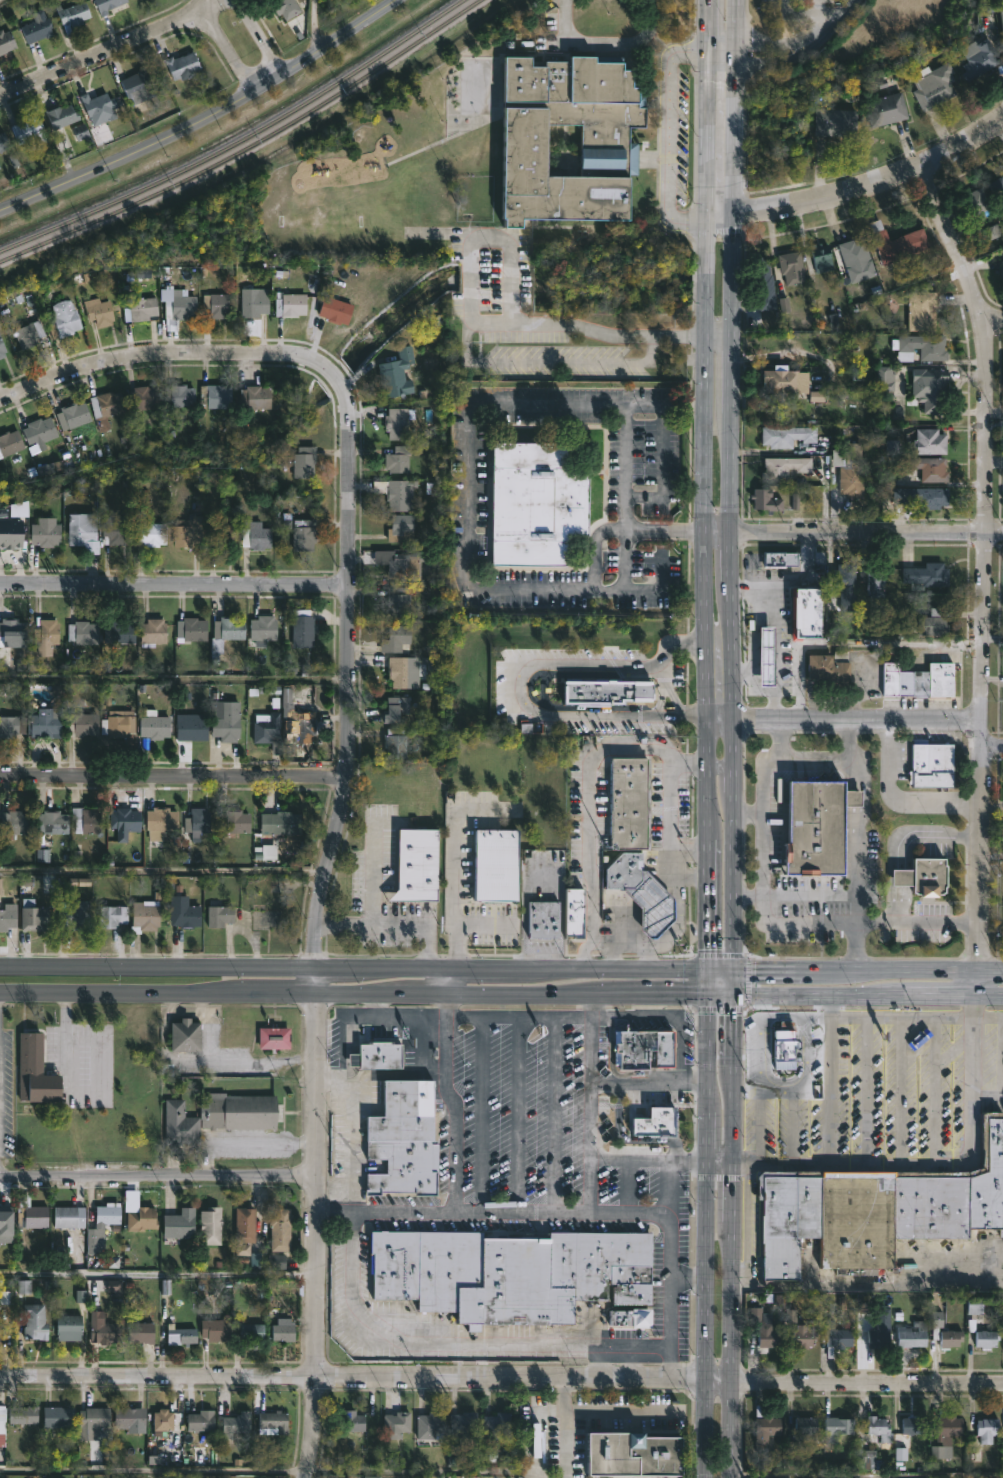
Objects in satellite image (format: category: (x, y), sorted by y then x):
road: (197, 4)
road: (10, 6)
building: (109, 6)
building: (287, 8)
road: (744, 9)
parking lot: (802, 10)
building: (1001, 10)
building: (72, 15)
road: (793, 15)
road: (816, 18)
road: (736, 25)
building: (37, 28)
road: (314, 28)
road: (261, 36)
building: (6, 41)
road: (608, 42)
road: (802, 42)
road: (227, 47)
road: (722, 50)
road: (97, 57)
building: (981, 60)
building: (183, 65)
building: (138, 85)
building: (935, 85)
building: (98, 108)
road: (706, 108)
building: (887, 109)
building: (61, 114)
road: (206, 120)
building: (836, 122)
road: (735, 131)
building: (28, 132)
road: (663, 137)
building: (604, 138)
railway: (239, 140)
building: (3, 143)
railway: (247, 145)
road: (873, 177)
building: (997, 188)
building: (974, 205)
road: (720, 215)
building: (993, 234)
building: (898, 243)
building: (824, 256)
building: (858, 259)
building: (792, 268)
building: (1002, 272)
building: (765, 286)
building: (254, 302)
building: (215, 304)
building: (290, 304)
building: (142, 308)
building: (335, 309)
building: (179, 310)
building: (923, 311)
building: (99, 312)
road: (990, 314)
building: (65, 318)
road: (466, 327)
road: (718, 333)
building: (29, 334)
building: (923, 346)
building: (2, 349)
road: (166, 351)
building: (396, 374)
building: (782, 381)
building: (884, 381)
building: (934, 390)
building: (180, 395)
building: (216, 396)
building: (254, 397)
building: (144, 398)
road: (678, 406)
road: (694, 406)
building: (106, 408)
building: (73, 415)
building: (396, 424)
building: (39, 432)
building: (787, 436)
building: (930, 442)
building: (10, 443)
building: (398, 460)
building: (304, 462)
building: (55, 467)
road: (733, 468)
building: (927, 468)
road: (702, 470)
building: (786, 470)
building: (853, 472)
road: (624, 485)
building: (396, 493)
building: (923, 497)
building: (766, 500)
building: (534, 503)
road: (468, 524)
building: (402, 530)
road: (718, 530)
building: (83, 531)
building: (114, 531)
building: (149, 531)
road: (868, 531)
building: (46, 532)
building: (188, 534)
building: (10, 535)
building: (220, 535)
building: (256, 535)
building: (304, 536)
building: (777, 558)
road: (981, 559)
building: (404, 568)
building: (927, 576)
road: (173, 586)
road: (657, 586)
building: (845, 586)
building: (875, 587)
building: (400, 602)
building: (807, 614)
building: (934, 624)
building: (12, 631)
building: (192, 631)
building: (263, 631)
building: (153, 632)
building: (227, 632)
building: (83, 633)
building: (118, 634)
building: (303, 635)
building: (46, 637)
building: (396, 639)
road: (992, 639)
road: (778, 640)
building: (832, 669)
road: (348, 671)
building: (404, 672)
building: (919, 681)
road: (517, 683)
building: (604, 690)
building: (396, 710)
building: (226, 721)
road: (880, 721)
building: (296, 722)
road: (758, 722)
building: (45, 723)
road: (721, 723)
building: (82, 725)
building: (11, 726)
building: (119, 726)
building: (152, 727)
building: (191, 729)
building: (266, 729)
road: (781, 739)
building: (395, 744)
road: (707, 744)
road: (991, 747)
road: (735, 749)
road: (831, 762)
building: (934, 766)
road: (722, 767)
road: (173, 776)
road: (896, 800)
road: (587, 801)
building: (631, 804)
road: (749, 814)
building: (162, 820)
building: (86, 822)
building: (234, 822)
building: (52, 823)
building: (125, 824)
building: (281, 824)
building: (14, 825)
building: (198, 825)
building: (815, 827)
road: (925, 833)
road: (991, 852)
road: (689, 853)
road: (454, 857)
road: (856, 857)
road: (372, 860)
building: (494, 864)
building: (414, 865)
road: (165, 871)
road: (690, 875)
building: (920, 876)
road: (899, 877)
building: (640, 891)
road: (676, 893)
road: (899, 904)
building: (497, 912)
building: (573, 912)
building: (184, 914)
building: (75, 916)
building: (8, 917)
building: (34, 917)
building: (112, 917)
building: (145, 917)
building: (220, 917)
building: (541, 920)
road: (783, 924)
road: (484, 925)
road: (392, 929)
road: (612, 957)
road: (646, 957)
road: (501, 968)
traffic signals: (707, 969)
traffic signals: (734, 969)
road: (314, 980)
road: (445, 980)
road: (978, 982)
road: (501, 993)
traffic signals: (707, 994)
traffic signals: (734, 994)
road: (669, 1015)
road: (517, 1016)
road: (780, 1020)
road: (423, 1021)
road: (947, 1021)
building: (186, 1036)
building: (274, 1038)
building: (917, 1039)
building: (639, 1048)
road: (757, 1052)
building: (780, 1052)
building: (375, 1055)
road: (805, 1055)
building: (34, 1072)
road: (386, 1074)
road: (829, 1077)
road: (647, 1081)
road: (774, 1085)
road: (68, 1089)
road: (588, 1103)
building: (243, 1111)
road: (483, 1114)
road: (515, 1114)
road: (551, 1114)
road: (706, 1122)
road: (756, 1122)
building: (651, 1123)
road: (792, 1123)
building: (180, 1124)
road: (351, 1127)
road: (733, 1127)
building: (401, 1139)
road: (247, 1142)
road: (629, 1159)
road: (719, 1159)
road: (934, 1162)
road: (669, 1169)
road: (454, 1170)
road: (157, 1175)
building: (953, 1192)
building: (30, 1213)
road: (626, 1213)
building: (107, 1214)
building: (69, 1216)
building: (785, 1217)
building: (140, 1219)
building: (855, 1220)
building: (180, 1223)
building: (211, 1225)
building: (245, 1227)
building: (281, 1228)
road: (314, 1235)
building: (509, 1272)
road: (687, 1273)
road: (157, 1274)
road: (867, 1285)
building: (979, 1304)
building: (633, 1317)
building: (34, 1321)
building: (0, 1325)
building: (69, 1327)
building: (764, 1328)
building: (216, 1329)
building: (104, 1330)
building: (252, 1331)
building: (283, 1332)
building: (142, 1333)
building: (948, 1333)
building: (180, 1335)
building: (985, 1336)
building: (805, 1337)
building: (838, 1337)
building: (913, 1338)
building: (880, 1339)
road: (474, 1343)
road: (597, 1361)
road: (631, 1361)
road: (501, 1377)
road: (623, 1412)
building: (23, 1415)
building: (130, 1419)
building: (60, 1420)
building: (164, 1420)
building: (202, 1421)
building: (354, 1421)
building: (92, 1422)
building: (2, 1423)
building: (273, 1423)
building: (236, 1424)
building: (396, 1425)
building: (431, 1425)
building: (497, 1425)
building: (915, 1425)
building: (807, 1426)
building: (951, 1426)
building: (464, 1428)
road: (566, 1428)
building: (839, 1428)
building: (881, 1428)
road: (537, 1430)
building: (989, 1430)
building: (768, 1432)
building: (638, 1455)
road: (153, 1470)
road: (422, 1471)
road: (536, 1477)
road: (866, 1477)

